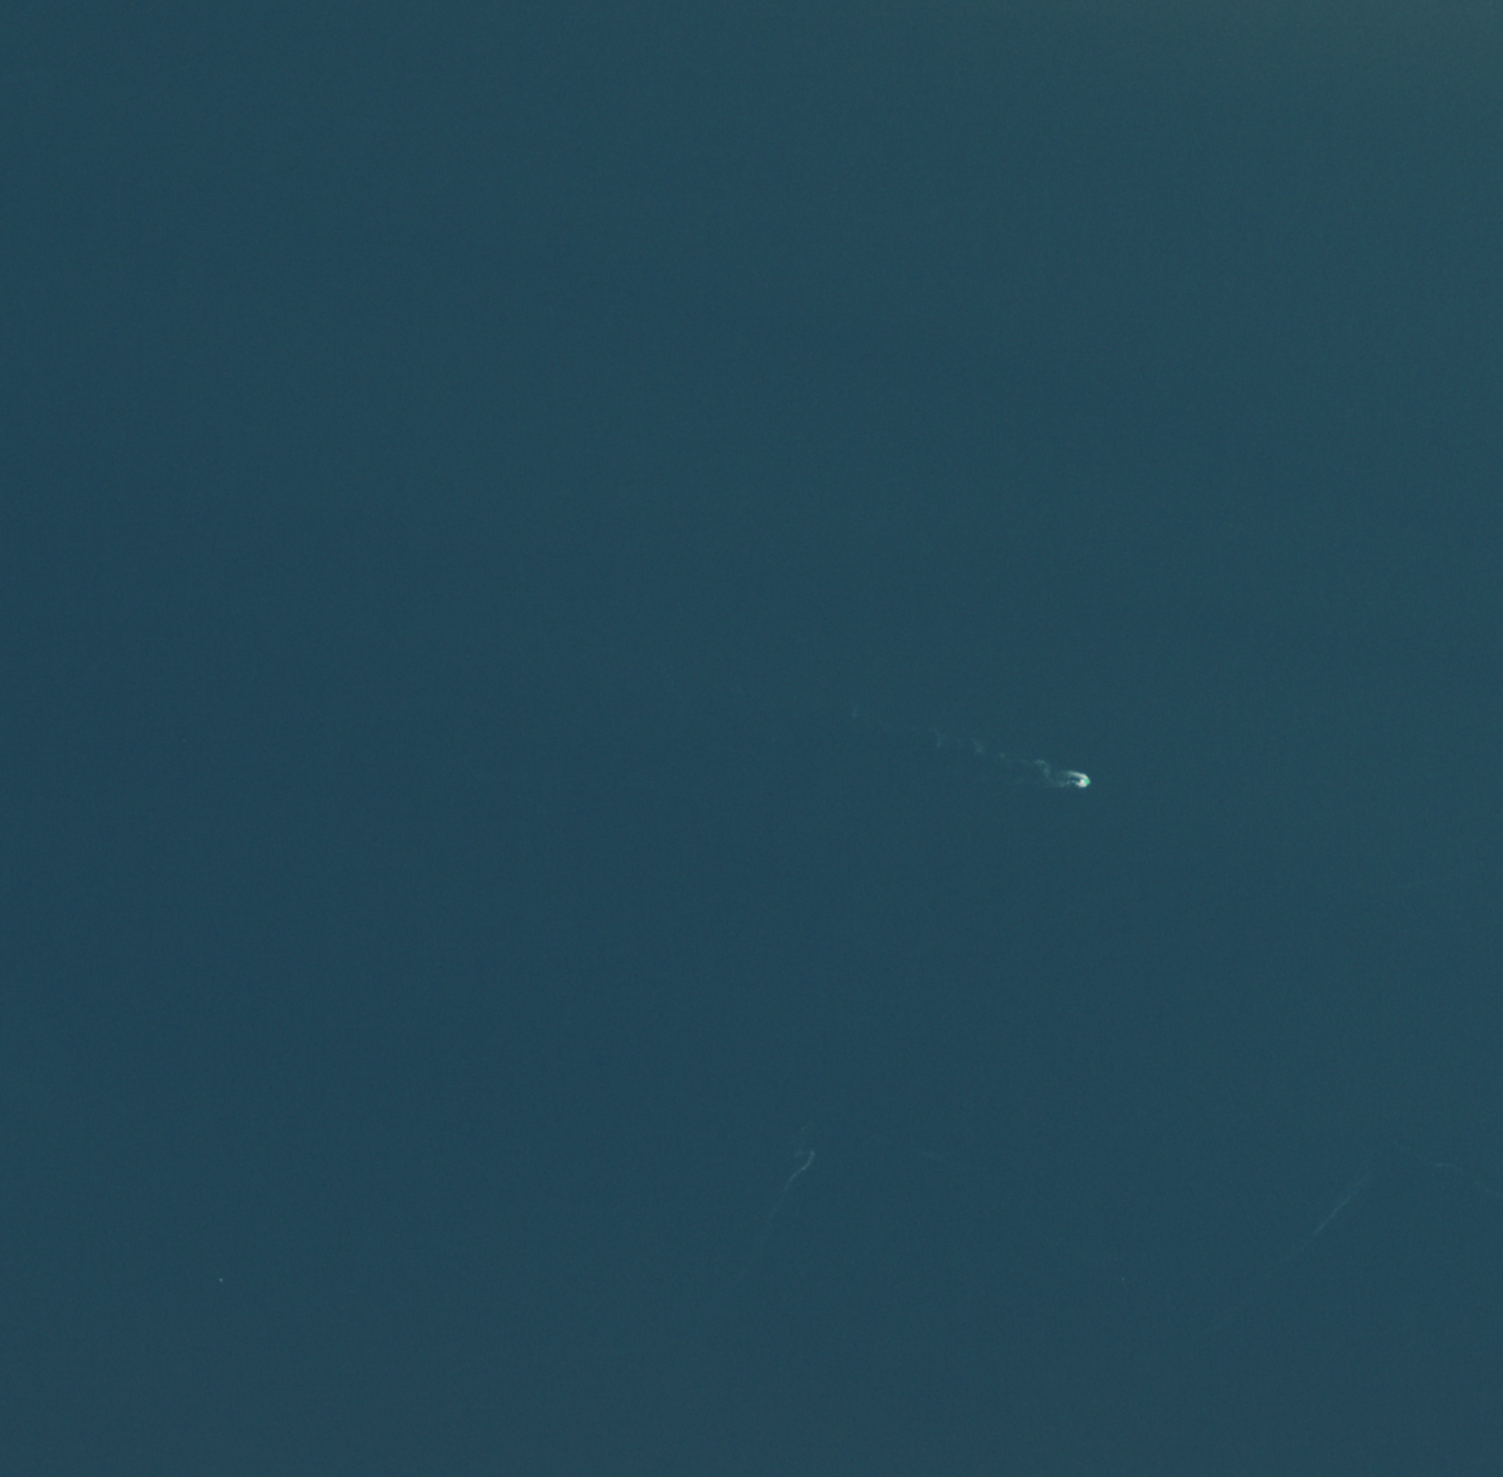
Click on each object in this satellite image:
river: (748, 1392)
river: (699, 1437)

